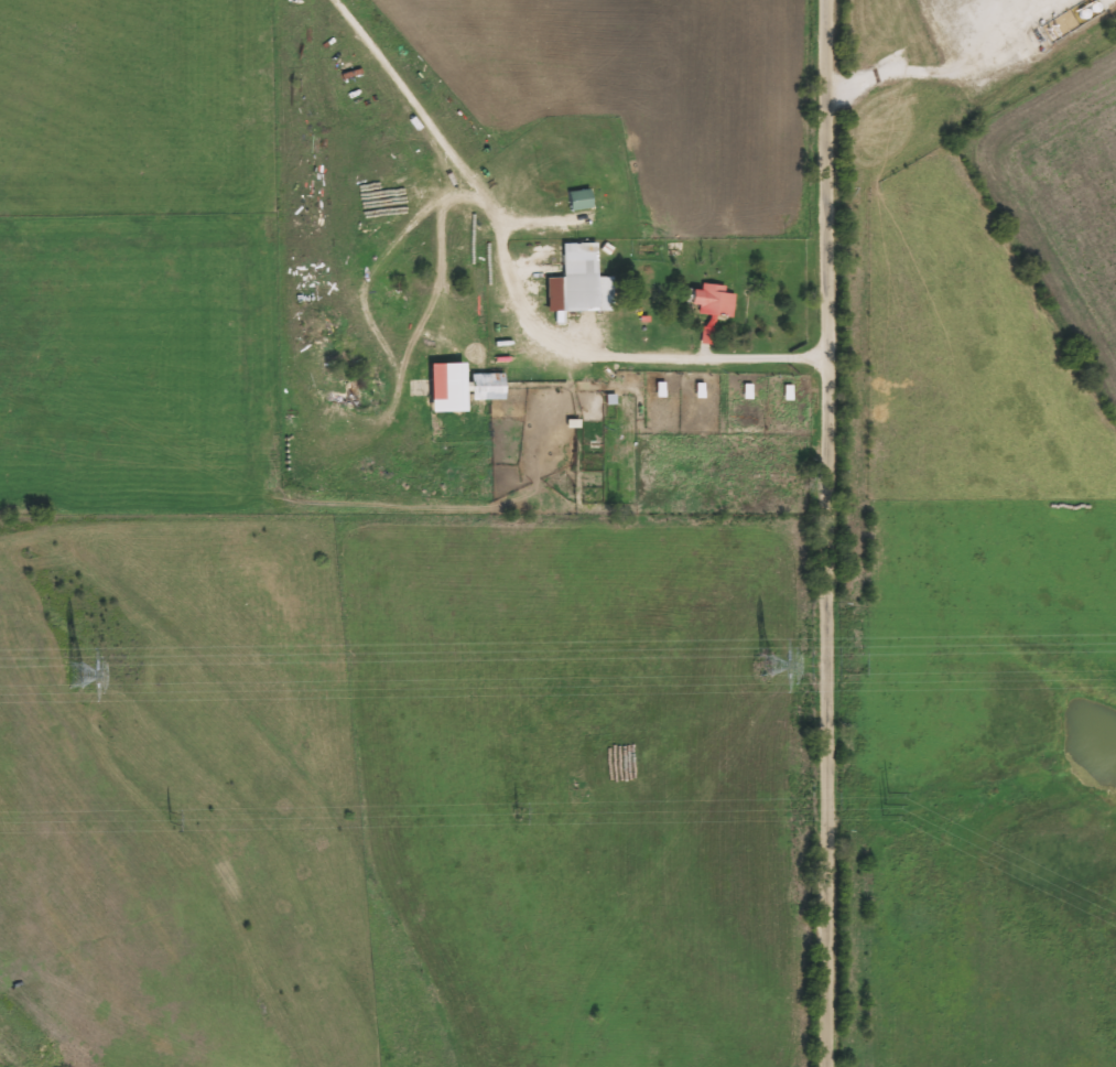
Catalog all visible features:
building: (1094, 7)
road: (922, 72)
building: (571, 281)
road: (512, 291)
building: (604, 294)
building: (708, 309)
building: (442, 389)
road: (832, 532)
power tower: (761, 665)
power tower: (71, 676)

